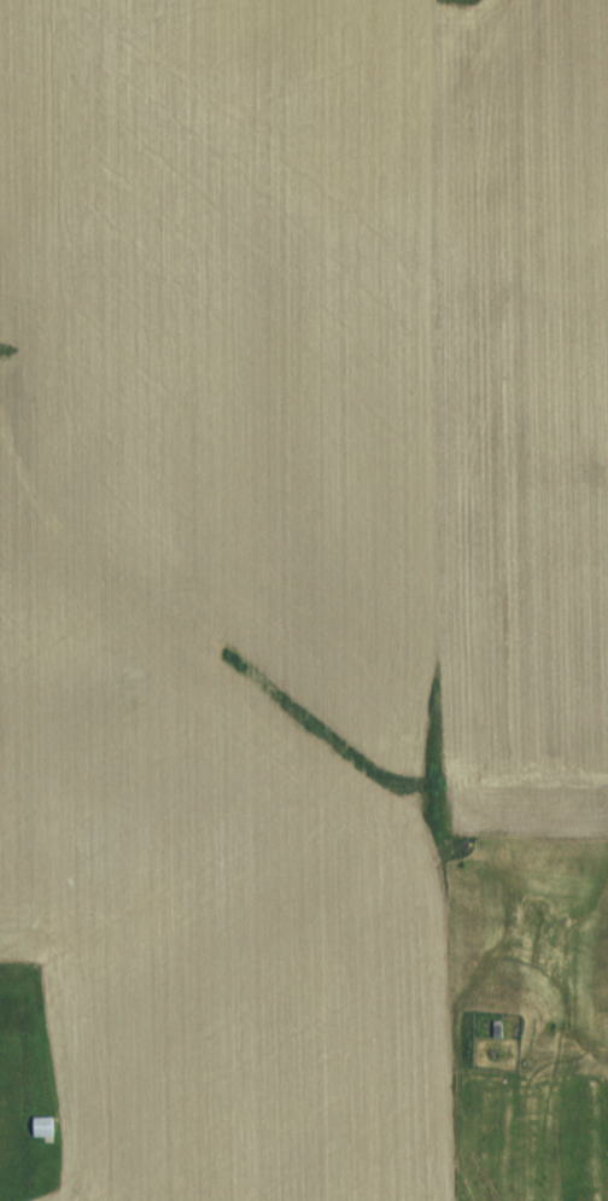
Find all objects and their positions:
crop: (288, 554)
building: (46, 1126)

